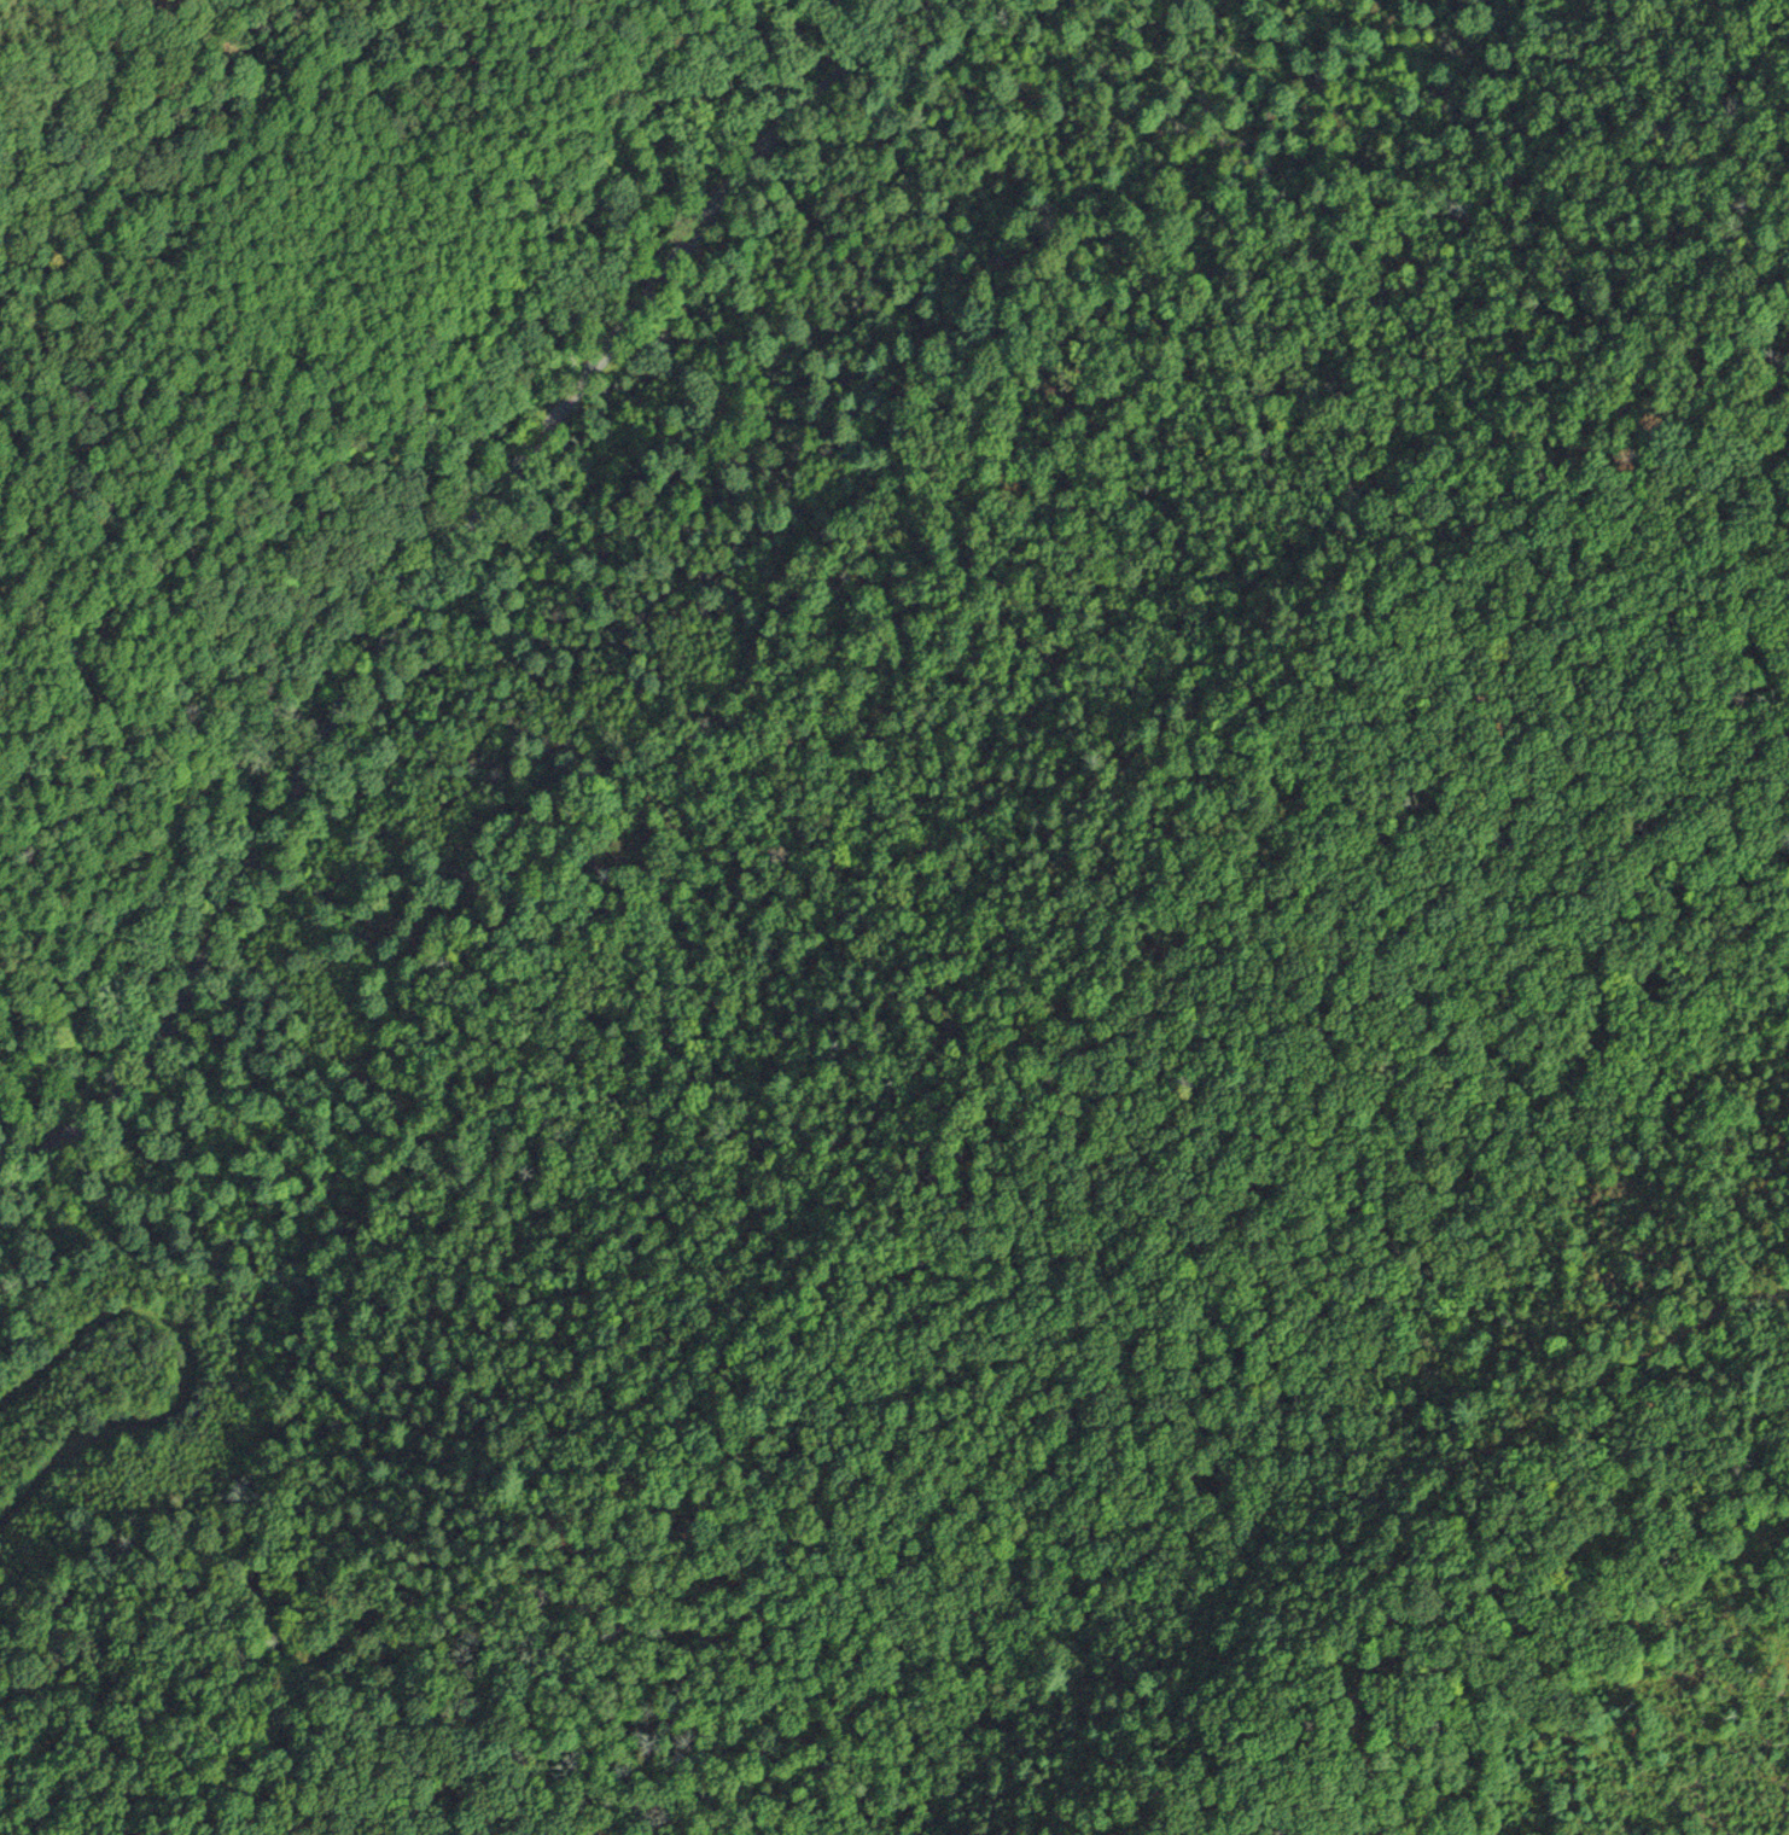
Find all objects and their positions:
road: (443, 559)
road: (183, 1383)
road: (1458, 1482)

